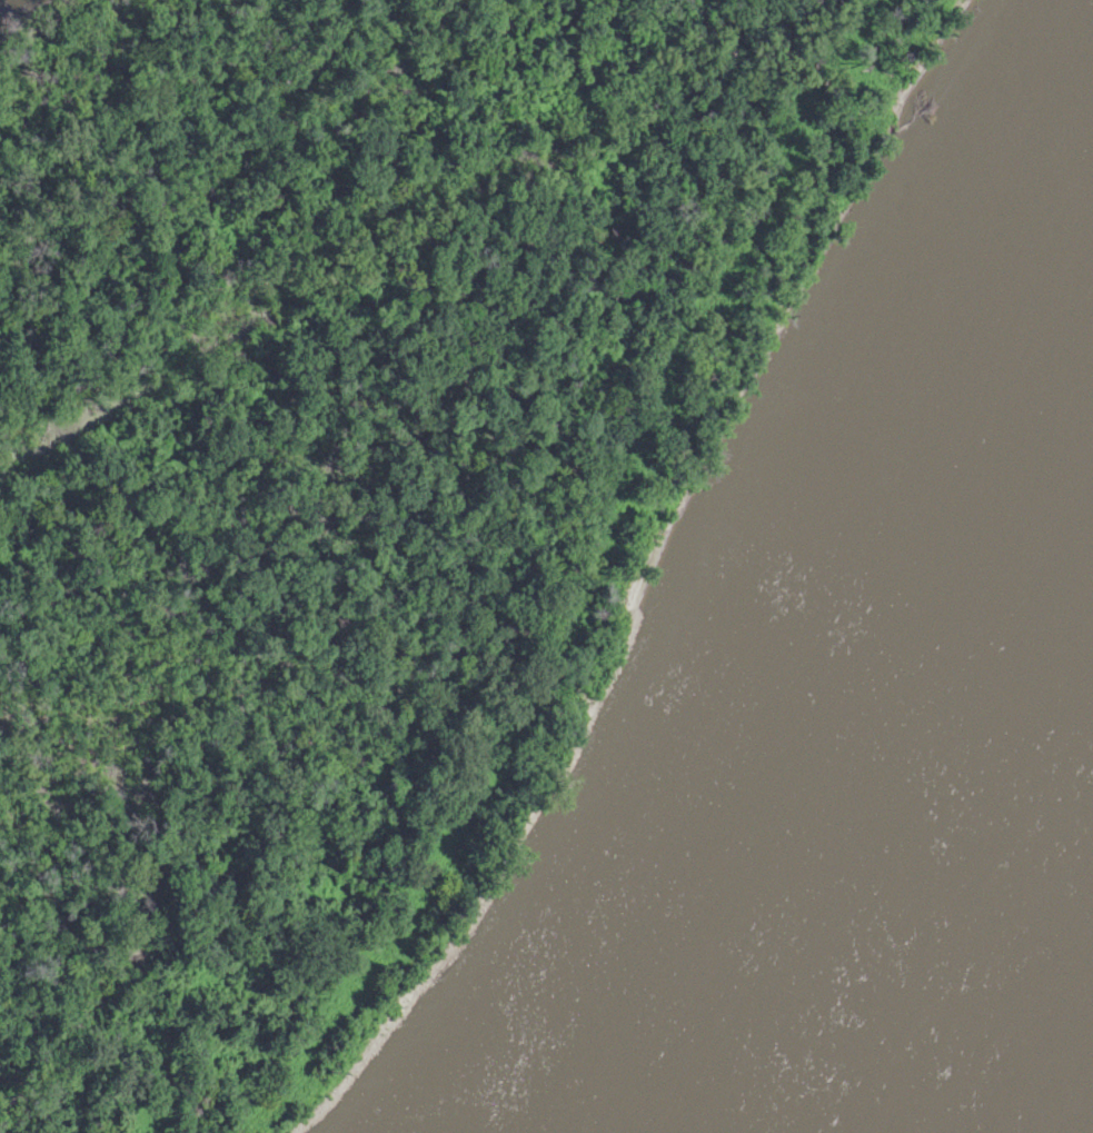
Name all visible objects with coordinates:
river: (1026, 1061)

